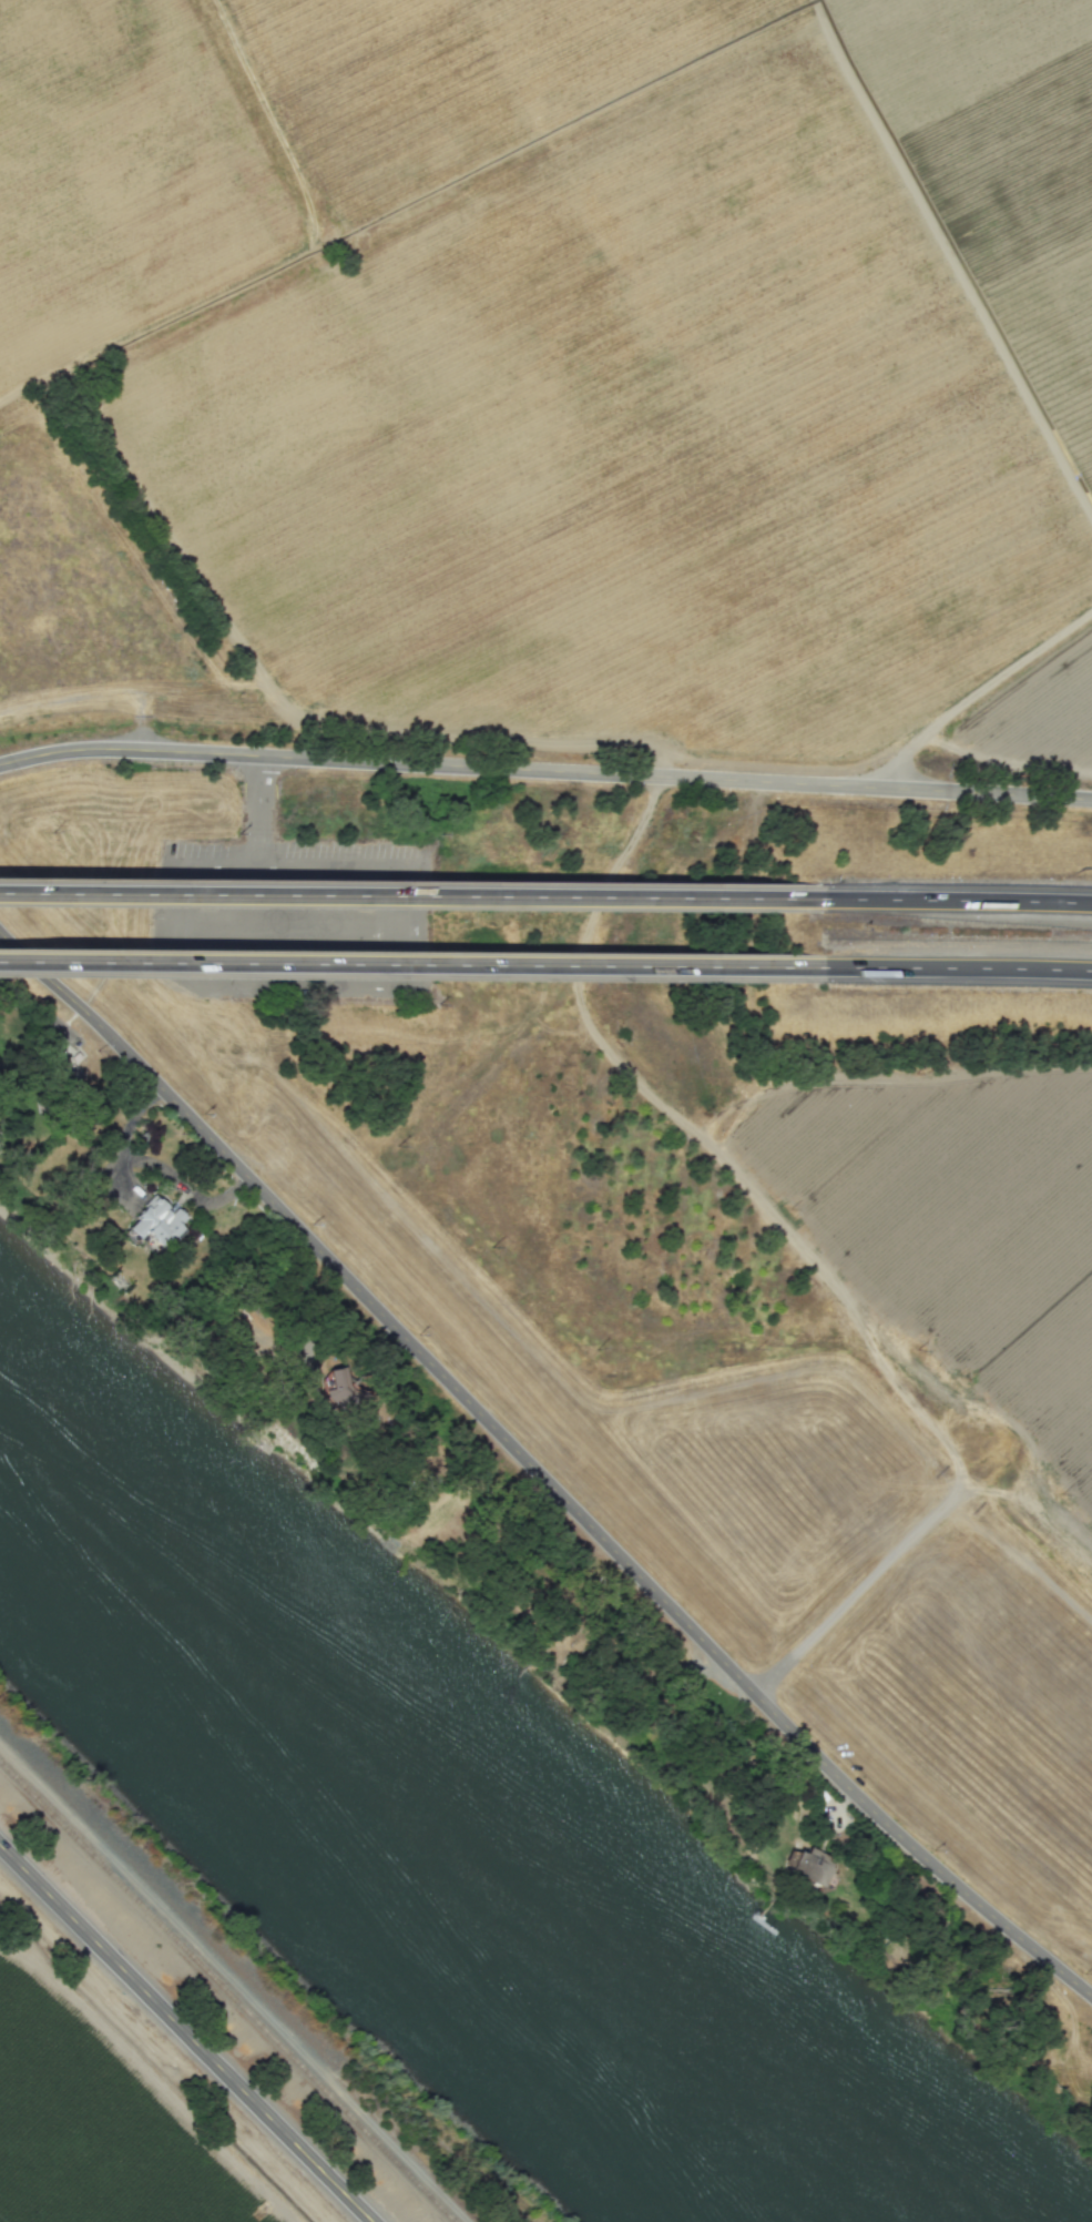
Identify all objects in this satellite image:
road: (972, 701)
road: (544, 771)
road: (259, 811)
road: (408, 896)
road: (955, 901)
road: (306, 926)
road: (412, 964)
road: (959, 968)
road: (354, 986)
building: (156, 1221)
building: (343, 1393)
road: (535, 1469)
river: (429, 1832)
building: (806, 1864)
railway: (227, 1992)
road: (183, 2035)
crop: (135, 2048)

